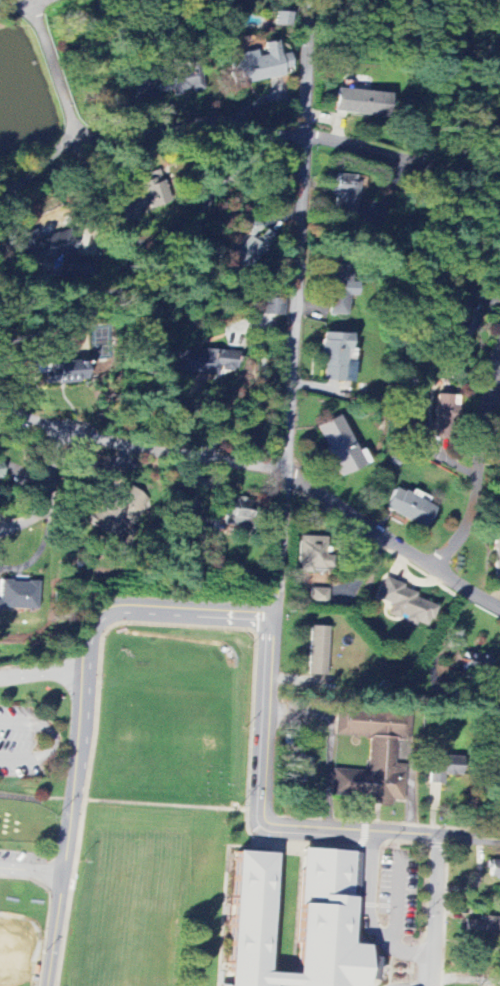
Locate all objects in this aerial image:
road: (24, 7)
building: (283, 20)
building: (264, 64)
road: (51, 73)
building: (179, 83)
building: (361, 103)
road: (147, 122)
road: (403, 165)
building: (344, 195)
building: (145, 198)
building: (252, 247)
building: (44, 251)
road: (157, 274)
building: (339, 291)
building: (270, 308)
building: (334, 356)
building: (205, 362)
building: (62, 372)
road: (289, 412)
road: (17, 418)
building: (445, 418)
building: (339, 446)
road: (155, 462)
building: (6, 468)
road: (477, 485)
road: (48, 492)
building: (410, 509)
building: (119, 510)
building: (238, 513)
building: (211, 524)
road: (392, 544)
building: (497, 553)
building: (313, 556)
building: (240, 571)
building: (19, 595)
building: (318, 597)
building: (407, 606)
building: (317, 651)
building: (477, 663)
road: (42, 672)
road: (82, 709)
road: (53, 741)
building: (375, 757)
building: (445, 768)
road: (36, 798)
road: (167, 805)
road: (379, 832)
building: (494, 869)
road: (32, 875)
park: (130, 906)
road: (434, 911)
road: (367, 914)
building: (247, 920)
building: (325, 922)
building: (482, 925)
road: (465, 979)

